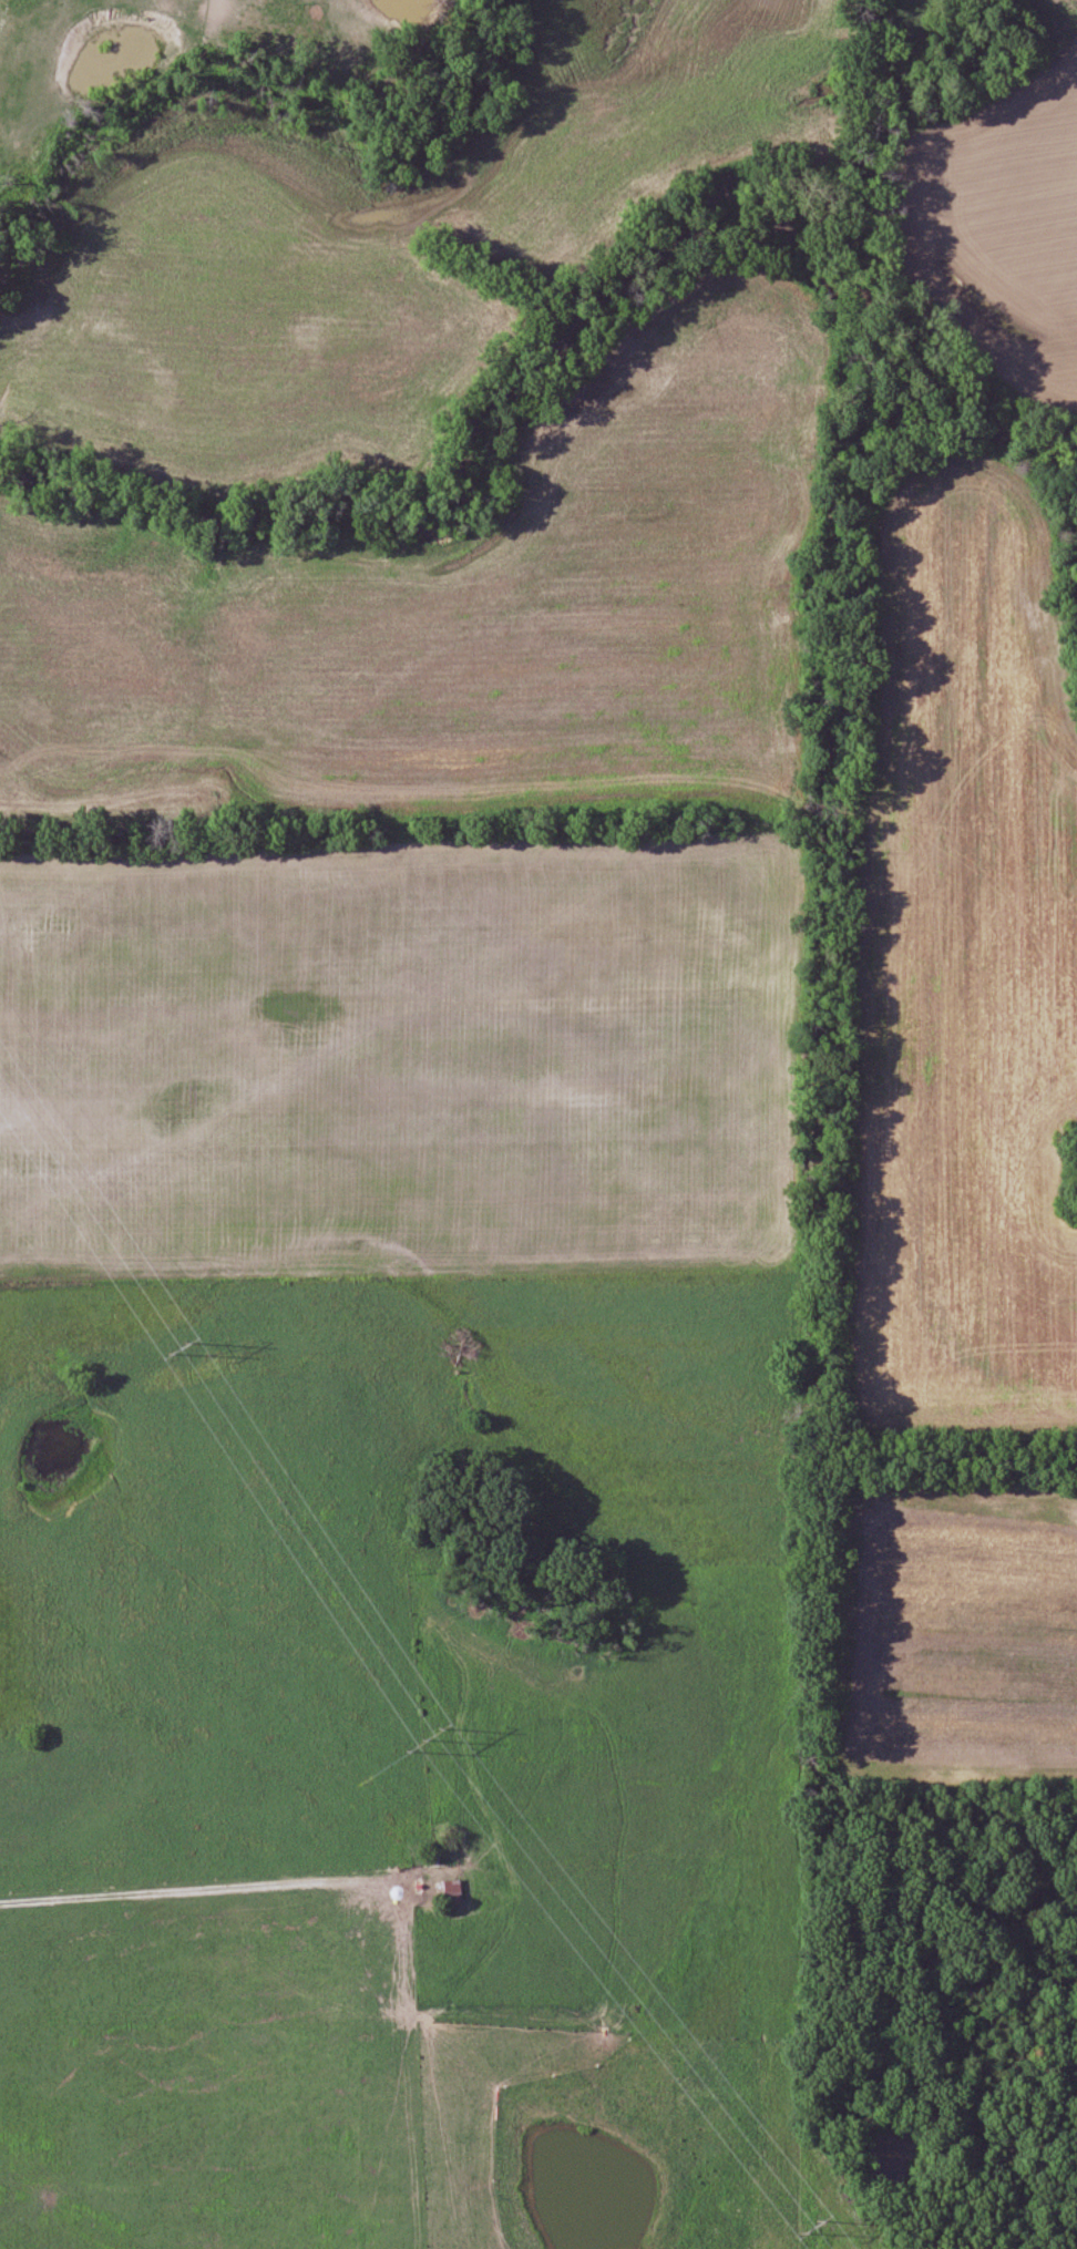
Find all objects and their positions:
power tower: (173, 1347)
power tower: (429, 1732)
road: (199, 1888)
building: (450, 1889)
power tower: (810, 2230)

